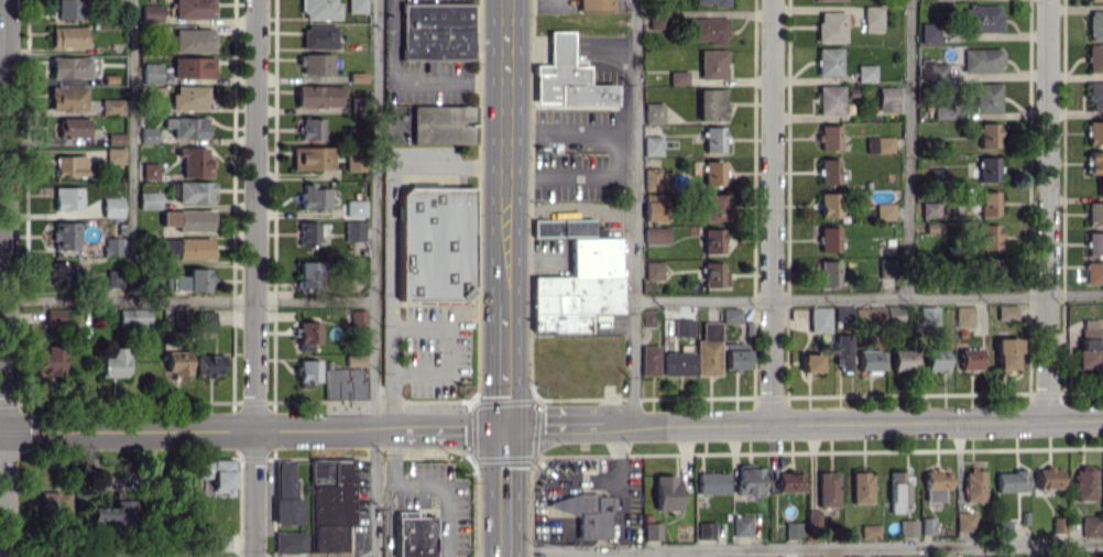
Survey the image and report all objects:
building: (831, 0)
building: (1095, 0)
building: (710, 2)
building: (594, 4)
building: (354, 6)
building: (67, 9)
building: (192, 9)
building: (318, 9)
building: (150, 13)
building: (872, 18)
building: (981, 19)
building: (655, 21)
building: (1095, 24)
building: (830, 26)
building: (708, 30)
building: (436, 31)
building: (928, 32)
building: (67, 36)
building: (317, 36)
building: (192, 40)
building: (1094, 57)
building: (980, 59)
building: (828, 61)
building: (314, 63)
building: (711, 64)
building: (68, 67)
building: (192, 67)
building: (936, 70)
building: (150, 73)
building: (865, 73)
building: (677, 77)
building: (566, 78)
road: (409, 80)
building: (318, 96)
road: (505, 96)
building: (1095, 96)
building: (188, 97)
building: (66, 98)
building: (887, 98)
building: (986, 98)
building: (829, 99)
building: (710, 103)
building: (110, 106)
building: (942, 111)
building: (652, 112)
building: (441, 123)
building: (68, 127)
building: (186, 127)
building: (309, 128)
building: (1094, 132)
building: (146, 134)
building: (987, 134)
building: (828, 136)
building: (113, 138)
building: (713, 139)
building: (878, 144)
building: (651, 145)
road: (907, 149)
road: (132, 150)
road: (621, 153)
building: (113, 155)
building: (310, 157)
building: (193, 160)
building: (353, 161)
building: (1094, 162)
building: (67, 165)
building: (986, 168)
building: (149, 171)
building: (828, 171)
building: (712, 172)
building: (651, 178)
road: (389, 184)
building: (192, 192)
building: (314, 197)
building: (66, 198)
building: (148, 199)
building: (987, 203)
building: (829, 205)
building: (111, 206)
building: (712, 206)
building: (354, 207)
building: (929, 209)
road: (1046, 209)
building: (653, 210)
building: (884, 210)
road: (771, 211)
road: (633, 212)
building: (1094, 214)
building: (187, 219)
building: (561, 227)
building: (353, 230)
building: (310, 233)
building: (655, 234)
building: (63, 236)
building: (987, 237)
building: (828, 238)
building: (712, 240)
road: (504, 241)
building: (434, 243)
building: (1094, 243)
building: (111, 245)
building: (186, 248)
building: (987, 266)
building: (886, 267)
building: (652, 270)
building: (828, 272)
building: (1093, 272)
building: (62, 273)
building: (308, 273)
building: (713, 274)
road: (6, 278)
building: (112, 278)
road: (254, 278)
road: (375, 278)
building: (190, 280)
building: (578, 288)
road: (867, 297)
road: (187, 299)
building: (1005, 312)
building: (731, 314)
building: (928, 315)
building: (963, 316)
building: (132, 317)
building: (194, 317)
building: (356, 317)
building: (647, 317)
building: (818, 319)
building: (682, 327)
building: (307, 331)
road: (447, 348)
building: (708, 349)
building: (842, 351)
building: (1006, 353)
building: (1088, 353)
building: (735, 358)
building: (969, 358)
road: (504, 359)
building: (867, 359)
building: (903, 359)
building: (936, 359)
building: (353, 360)
building: (648, 360)
building: (50, 361)
building: (113, 362)
building: (176, 362)
building: (810, 362)
building: (676, 363)
building: (208, 364)
building: (308, 371)
road: (389, 371)
building: (341, 383)
road: (551, 426)
traffic signals: (504, 427)
road: (618, 461)
building: (216, 474)
building: (283, 477)
building: (1048, 478)
building: (747, 479)
building: (935, 480)
building: (1011, 480)
building: (789, 481)
building: (710, 482)
building: (973, 483)
building: (1083, 483)
road: (426, 484)
building: (861, 487)
building: (827, 489)
building: (331, 490)
building: (897, 491)
road: (504, 492)
building: (665, 492)
building: (53, 502)
building: (286, 511)
building: (111, 513)
building: (585, 513)
building: (812, 517)
building: (741, 525)
building: (927, 525)
building: (1090, 525)
building: (907, 527)
building: (1003, 527)
building: (1102, 528)
building: (705, 529)
building: (791, 529)
building: (651, 531)
building: (869, 531)
building: (413, 535)
building: (328, 537)
building: (219, 542)
building: (288, 542)
road: (804, 548)
road: (634, 554)
building: (889, 556)
building: (927, 556)
building: (982, 556)
building: (1002, 556)
building: (1031, 556)

